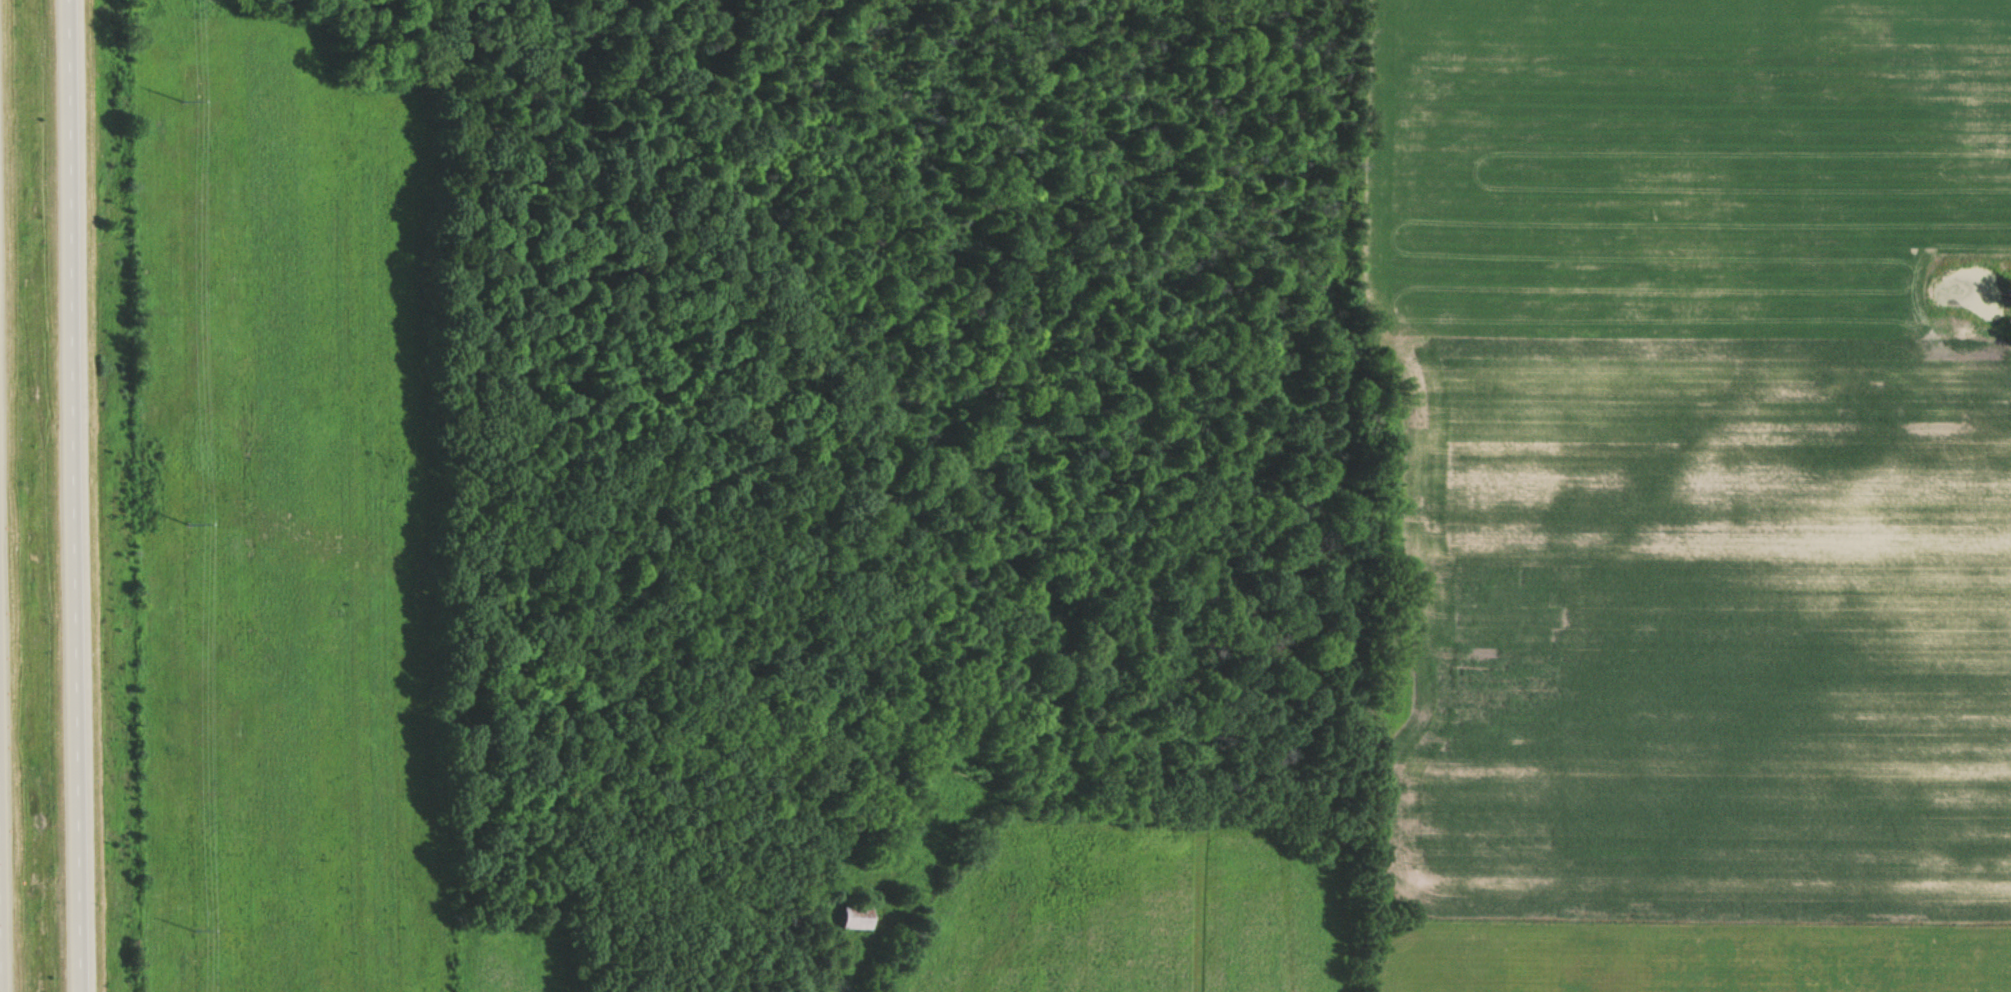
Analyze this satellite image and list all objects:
power tower: (180, 101)
road: (71, 496)
power tower: (185, 522)
building: (854, 919)
power tower: (192, 928)

